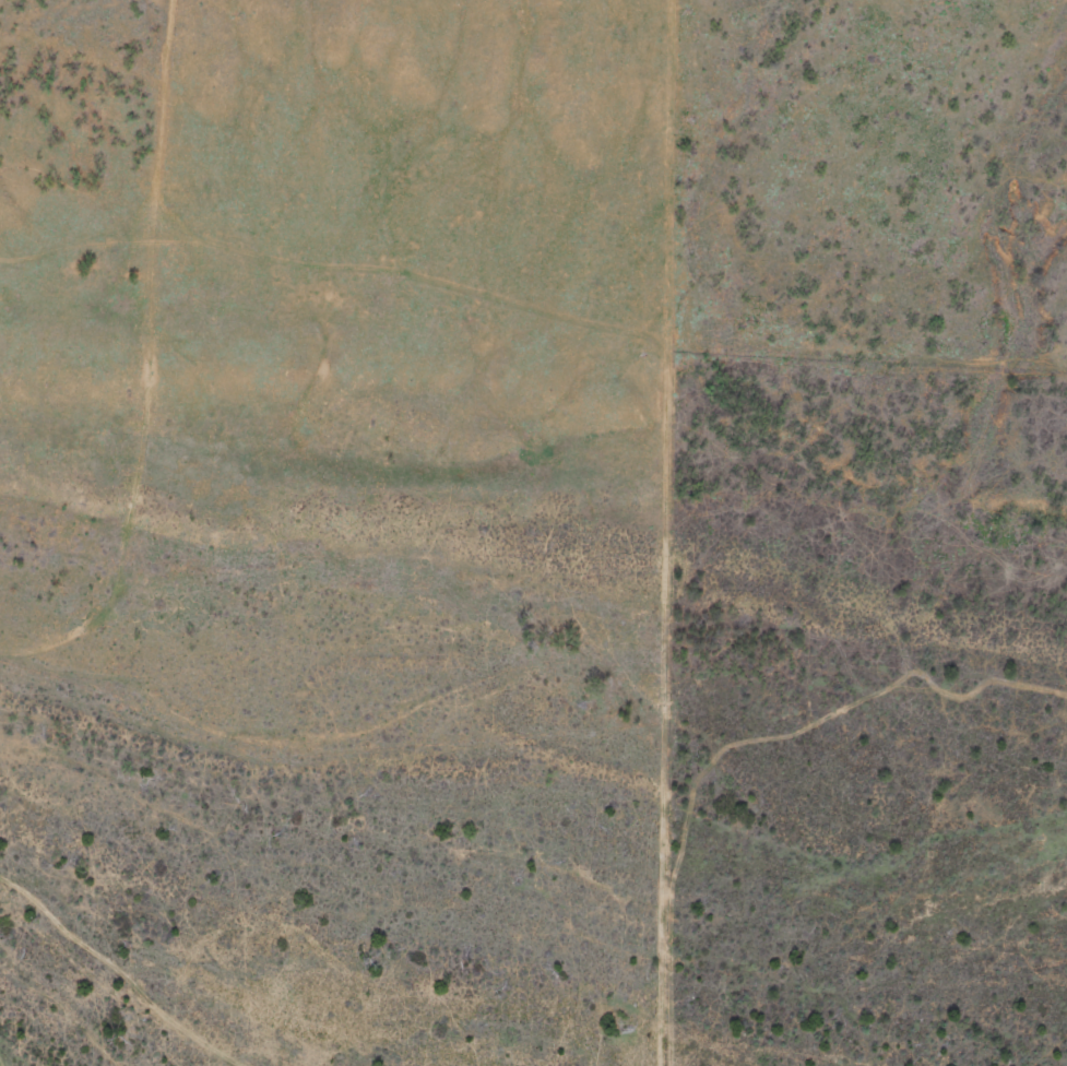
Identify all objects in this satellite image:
road: (151, 372)

